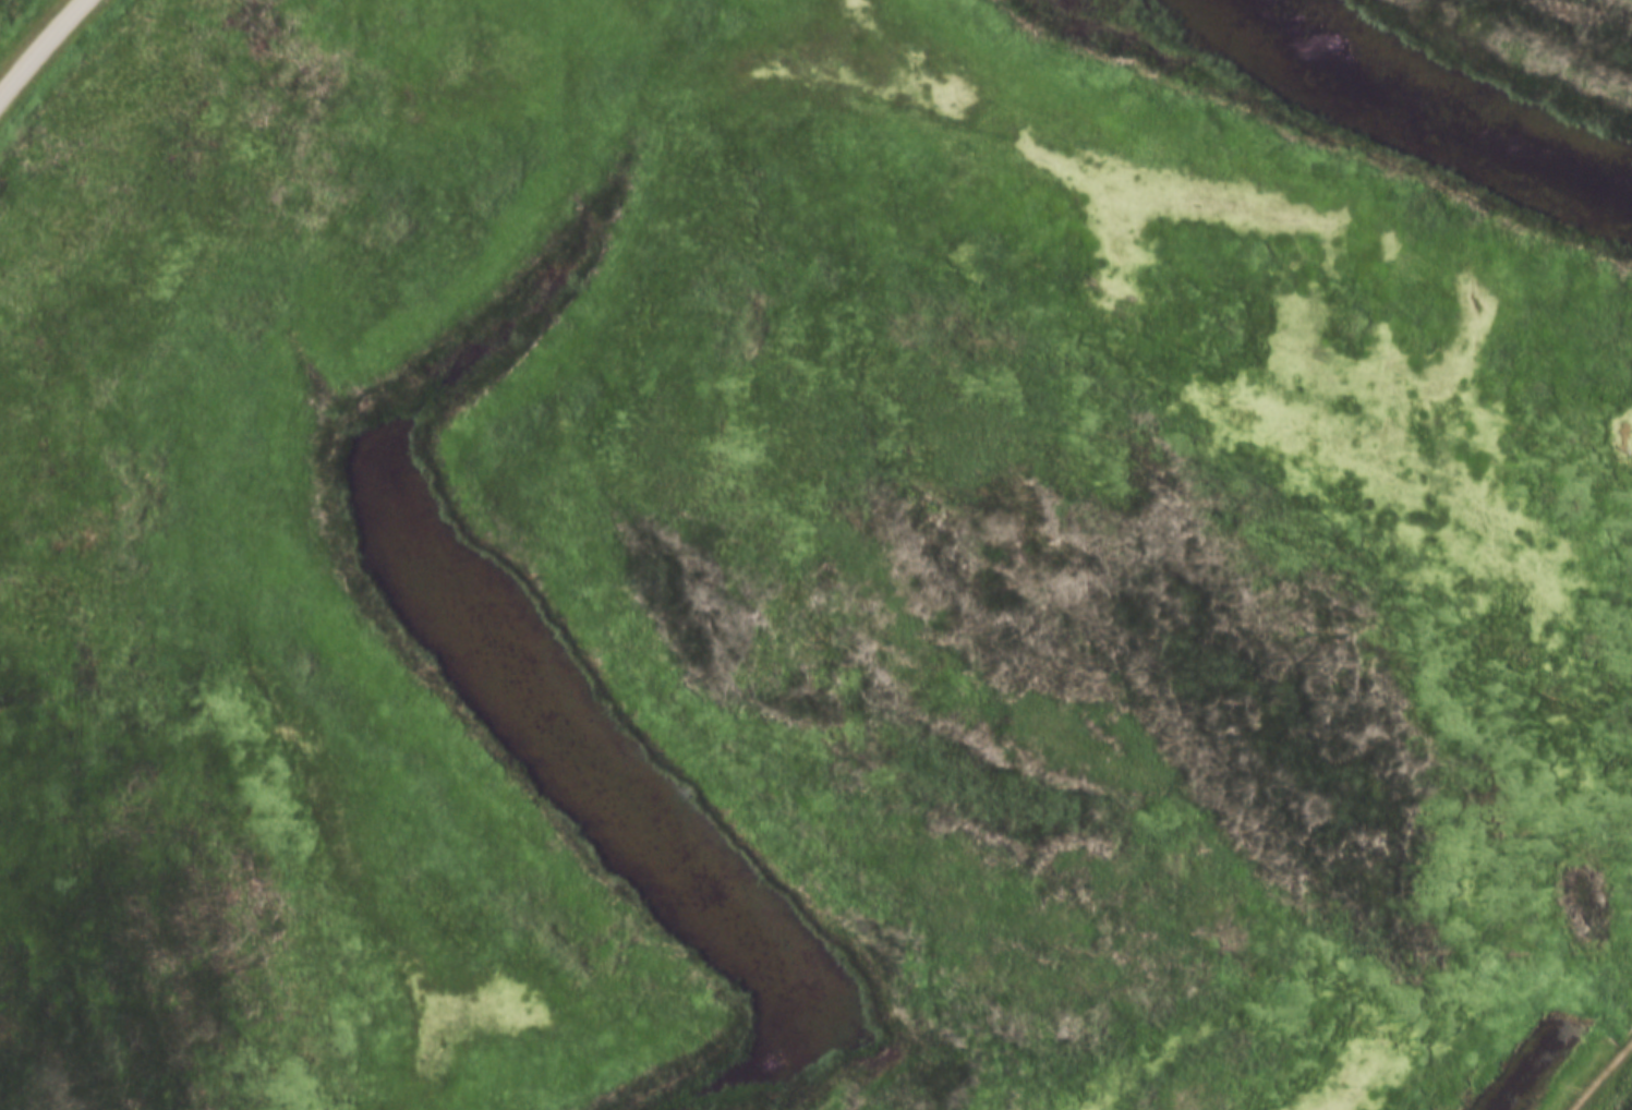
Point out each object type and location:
road: (39, 46)
road: (1601, 1073)
dam: (1616, 1093)

